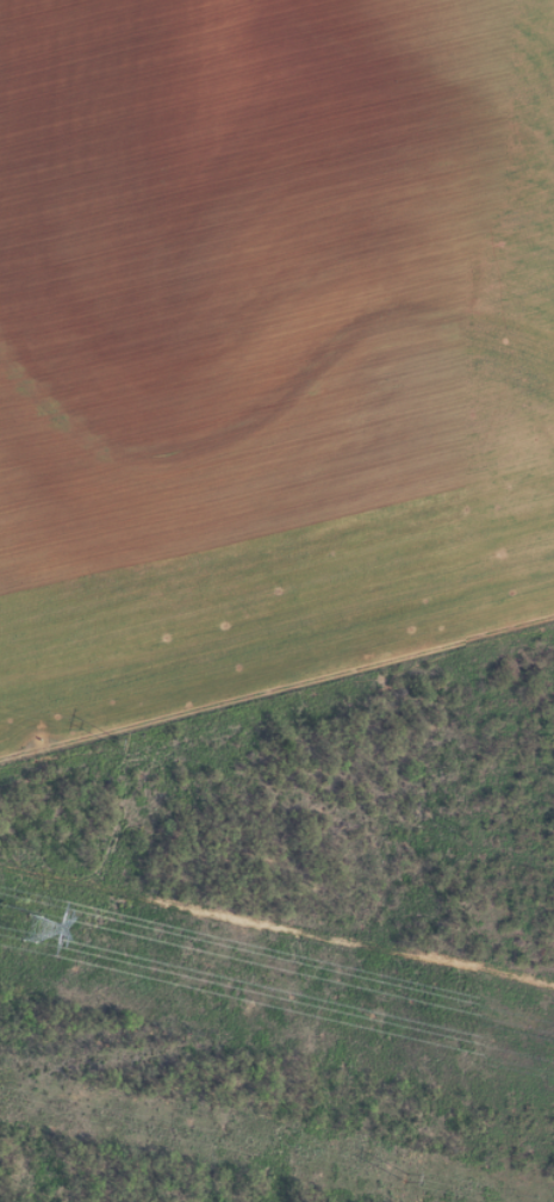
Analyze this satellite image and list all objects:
power tower: (112, 741)
power tower: (467, 837)
power tower: (29, 918)

